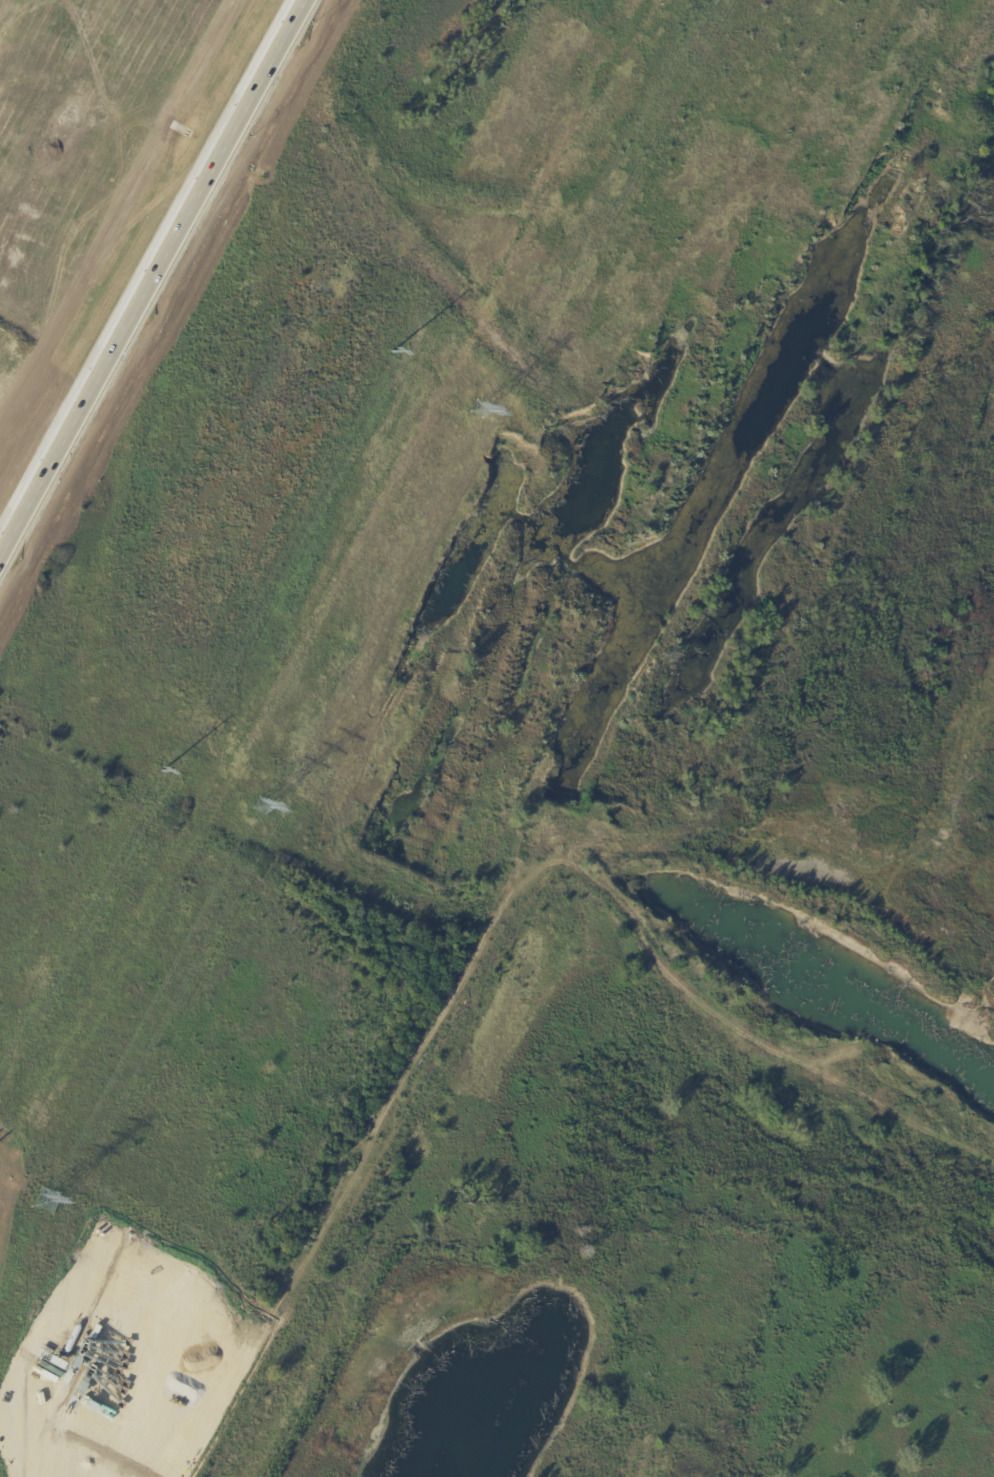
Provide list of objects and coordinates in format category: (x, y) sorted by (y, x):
road: (282, 48)
road: (285, 48)
road: (128, 332)
power tower: (391, 350)
power tower: (472, 414)
power tower: (161, 771)
power tower: (259, 806)
power tower: (44, 1202)

